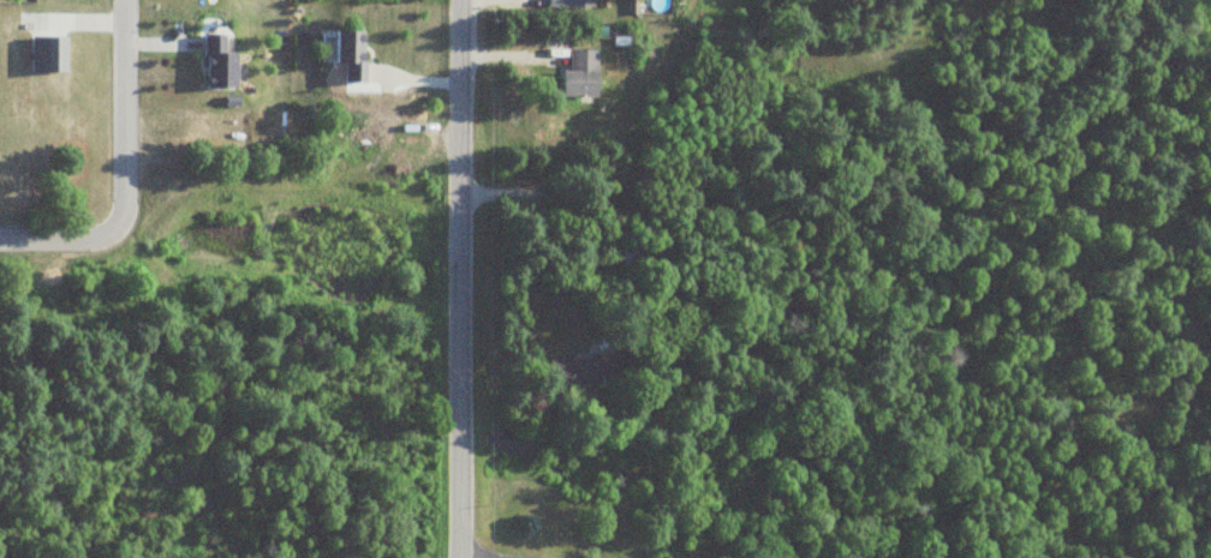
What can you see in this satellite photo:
building: (578, 4)
building: (46, 53)
building: (348, 54)
building: (217, 60)
building: (578, 72)
road: (125, 174)
road: (459, 278)
building: (584, 370)

